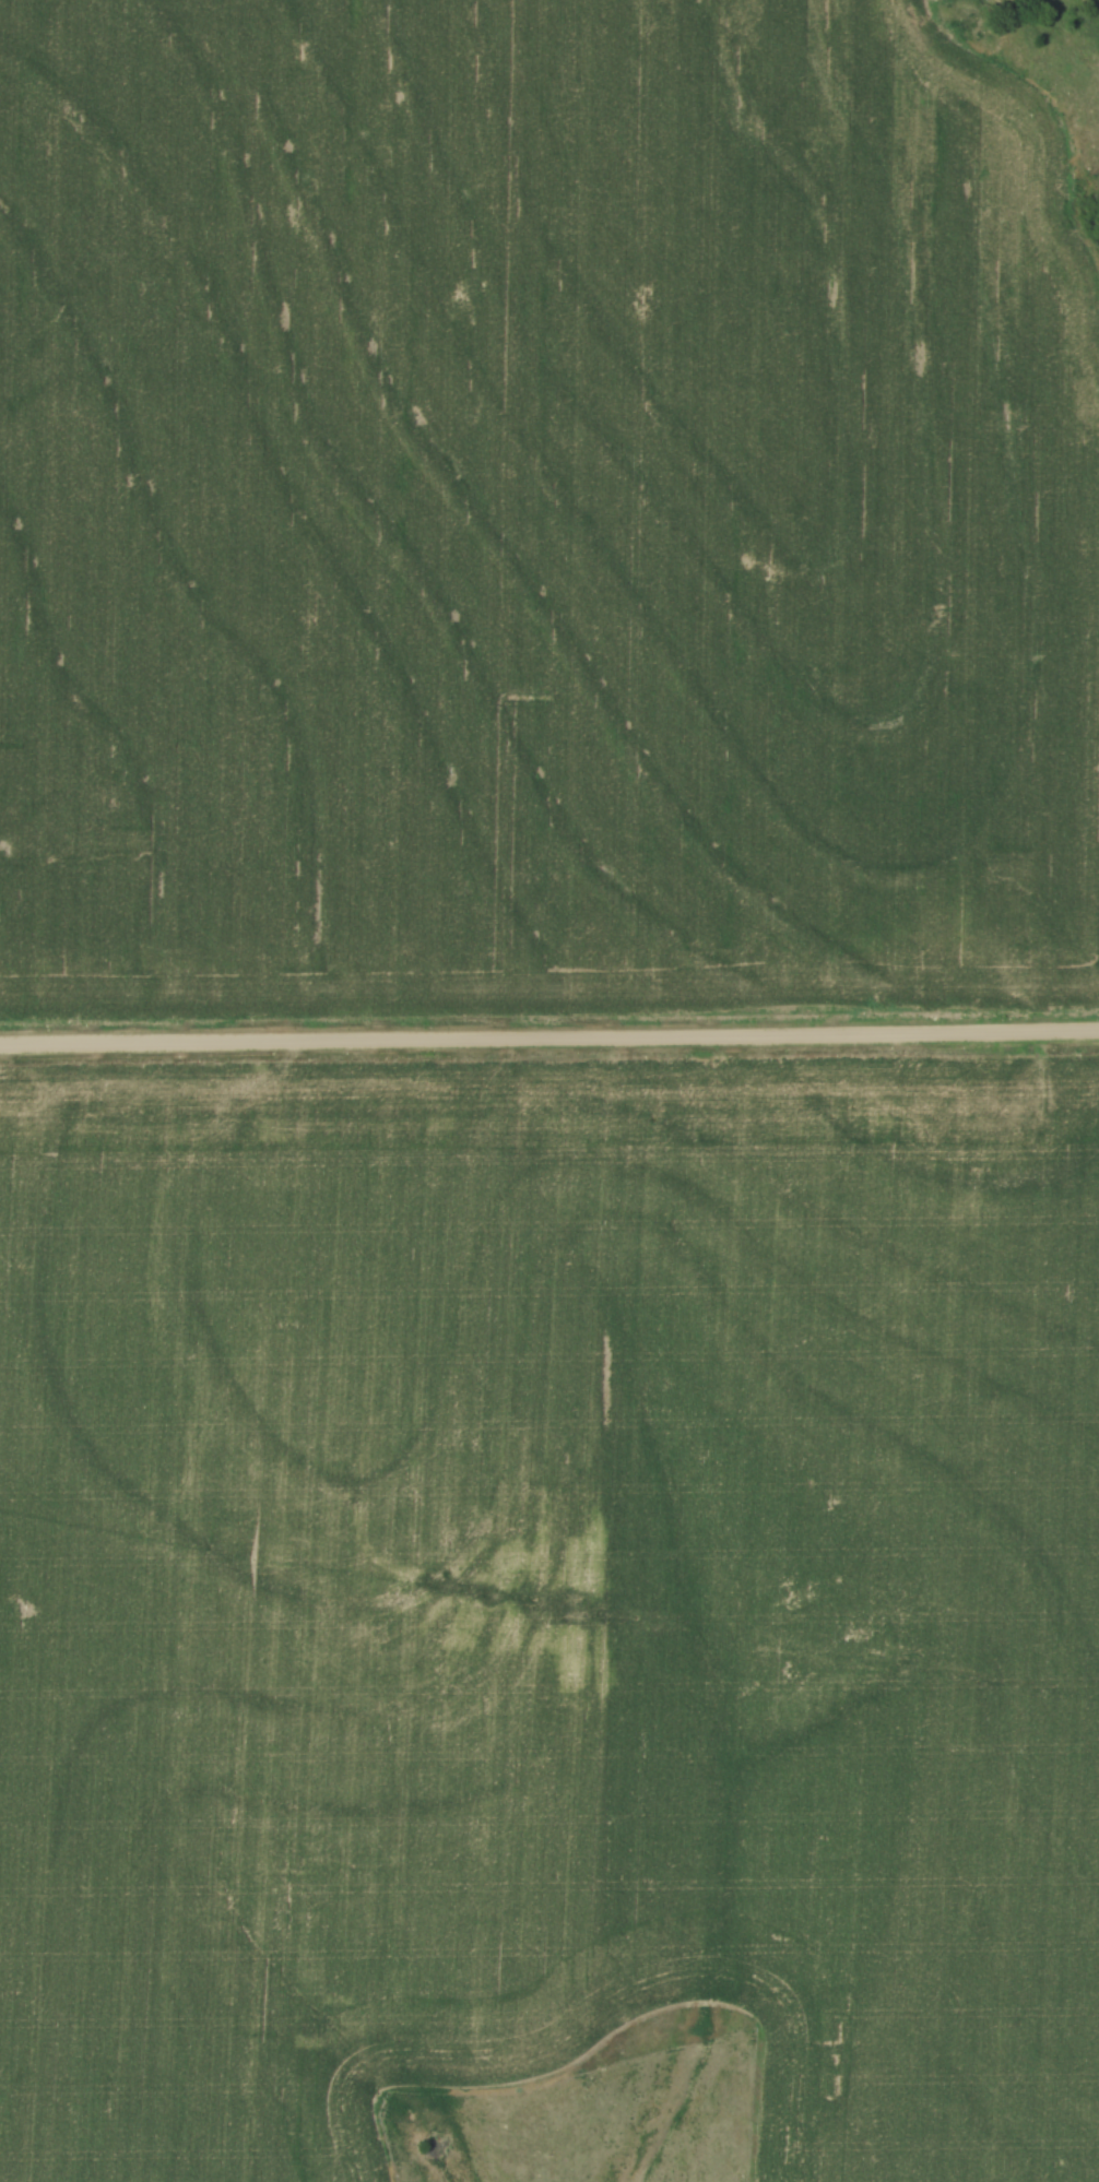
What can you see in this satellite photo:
road: (549, 1036)

